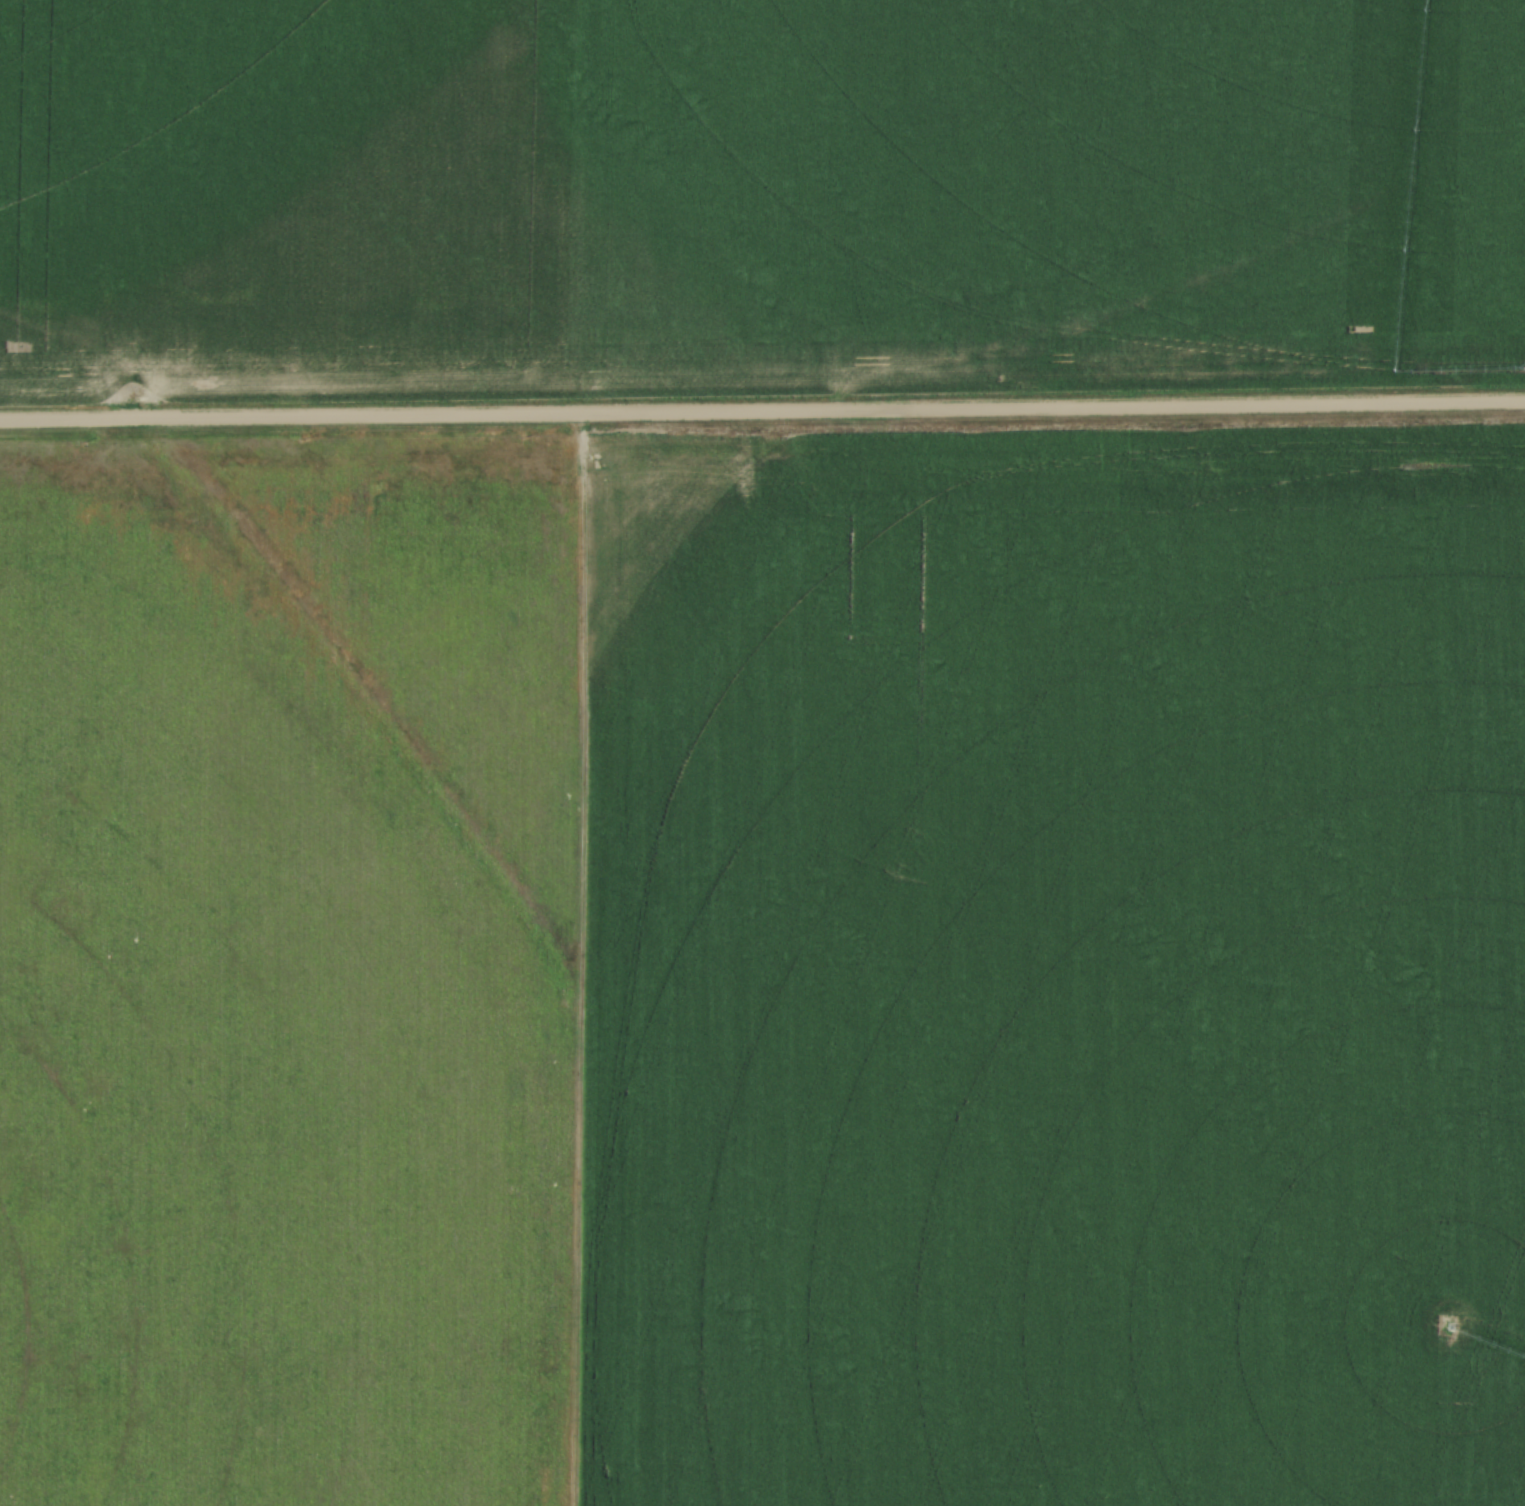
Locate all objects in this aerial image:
road: (762, 408)

